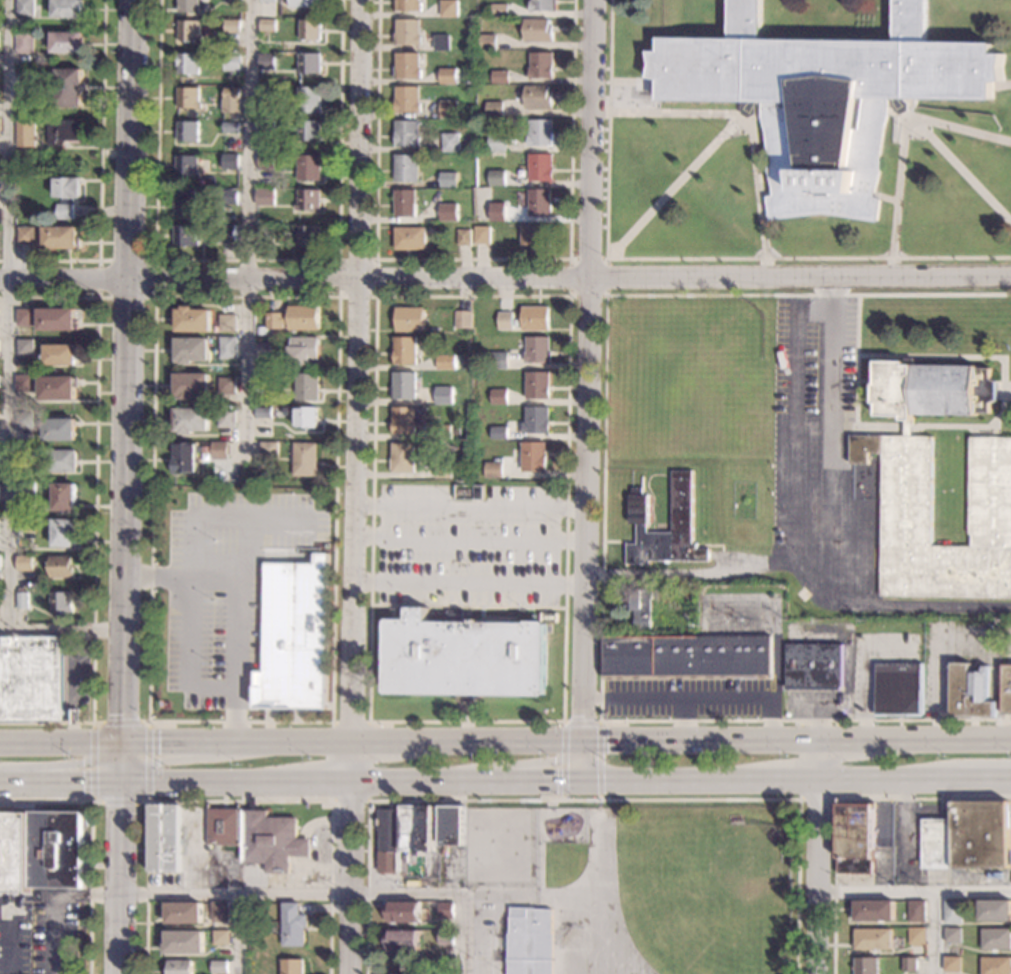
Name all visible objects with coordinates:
building: (234, 1)
building: (269, 1)
building: (307, 3)
building: (188, 5)
building: (409, 6)
building: (542, 6)
building: (24, 8)
building: (67, 8)
building: (450, 8)
building: (499, 11)
building: (268, 25)
building: (233, 26)
building: (311, 30)
building: (537, 30)
building: (189, 31)
building: (409, 32)
building: (24, 42)
building: (66, 43)
building: (443, 43)
building: (487, 43)
building: (36, 58)
building: (233, 62)
building: (267, 62)
building: (188, 63)
building: (311, 64)
building: (408, 66)
building: (541, 66)
building: (449, 76)
building: (499, 78)
road: (632, 82)
road: (1001, 85)
building: (68, 87)
building: (232, 93)
building: (268, 94)
building: (537, 97)
building: (188, 98)
building: (822, 98)
building: (408, 99)
building: (311, 100)
building: (449, 109)
building: (494, 109)
building: (36, 116)
road: (744, 122)
building: (231, 127)
building: (268, 128)
building: (64, 131)
building: (187, 131)
building: (310, 131)
building: (540, 133)
building: (25, 134)
building: (407, 134)
road: (902, 135)
building: (451, 142)
building: (497, 143)
building: (266, 161)
building: (231, 162)
building: (29, 165)
building: (187, 165)
building: (310, 168)
building: (407, 168)
building: (540, 168)
road: (960, 170)
building: (496, 178)
road: (100, 179)
building: (449, 180)
road: (672, 188)
road: (764, 194)
building: (66, 196)
building: (230, 197)
building: (265, 197)
road: (885, 197)
building: (309, 200)
building: (539, 202)
building: (186, 203)
building: (405, 203)
building: (449, 212)
building: (497, 216)
building: (265, 233)
building: (229, 234)
building: (26, 236)
building: (186, 236)
building: (309, 236)
building: (482, 236)
road: (249, 237)
building: (464, 237)
building: (61, 238)
building: (410, 239)
building: (535, 239)
road: (678, 258)
road: (375, 259)
road: (472, 259)
road: (605, 259)
road: (245, 260)
road: (154, 261)
road: (505, 277)
road: (337, 296)
road: (568, 296)
road: (8, 316)
building: (24, 317)
building: (294, 318)
building: (462, 319)
building: (534, 319)
building: (57, 320)
building: (193, 320)
building: (409, 320)
building: (504, 321)
building: (228, 323)
building: (262, 332)
building: (25, 348)
building: (227, 348)
building: (192, 350)
building: (263, 350)
building: (536, 350)
building: (303, 351)
building: (405, 351)
building: (60, 355)
building: (498, 360)
building: (446, 362)
building: (264, 377)
park: (679, 381)
building: (23, 383)
building: (192, 385)
building: (536, 385)
building: (225, 386)
building: (403, 386)
building: (307, 387)
building: (58, 388)
building: (932, 390)
road: (588, 391)
road: (126, 392)
road: (1007, 392)
building: (443, 395)
building: (498, 397)
building: (263, 412)
building: (306, 416)
building: (227, 418)
building: (405, 419)
building: (24, 420)
building: (191, 421)
building: (535, 421)
road: (967, 426)
building: (907, 428)
building: (59, 430)
building: (442, 432)
building: (498, 433)
building: (268, 450)
building: (220, 451)
building: (25, 452)
parking lot: (821, 454)
road: (827, 455)
building: (533, 457)
building: (186, 458)
building: (402, 458)
building: (305, 459)
building: (61, 461)
building: (443, 470)
building: (493, 470)
road: (354, 487)
building: (26, 494)
building: (65, 497)
building: (905, 499)
road: (469, 505)
road: (94, 506)
building: (681, 509)
road: (602, 511)
road: (793, 521)
building: (63, 533)
building: (776, 538)
road: (469, 542)
parking lot: (468, 547)
building: (18, 549)
building: (24, 563)
building: (61, 567)
road: (191, 570)
road: (690, 574)
road: (182, 578)
road: (468, 584)
parking lot: (230, 587)
building: (22, 600)
building: (62, 603)
building: (638, 607)
road: (775, 620)
road: (62, 632)
road: (237, 633)
building: (293, 636)
building: (687, 656)
parking lot: (775, 656)
building: (465, 657)
building: (813, 667)
building: (32, 680)
building: (960, 683)
building: (898, 689)
building: (1006, 689)
road: (699, 698)
traffic signals: (582, 716)
road: (581, 721)
road: (683, 721)
road: (148, 722)
road: (368, 722)
road: (505, 744)
traffic signals: (581, 745)
traffic signals: (606, 745)
traffic signals: (122, 747)
road: (176, 759)
road: (61, 763)
road: (836, 778)
road: (984, 781)
traffic signals: (580, 782)
road: (769, 782)
road: (306, 783)
road: (535, 783)
traffic signals: (556, 783)
road: (60, 785)
traffic signals: (122, 785)
road: (836, 798)
road: (583, 800)
road: (238, 801)
road: (598, 803)
road: (587, 810)
building: (452, 826)
building: (223, 827)
building: (402, 834)
building: (967, 837)
building: (165, 838)
building: (855, 838)
building: (271, 841)
road: (90, 842)
park: (500, 847)
building: (41, 851)
road: (816, 858)
road: (540, 864)
road: (121, 879)
road: (913, 890)
road: (534, 893)
road: (331, 894)
road: (496, 894)
road: (55, 902)
building: (445, 910)
building: (873, 910)
building: (995, 910)
building: (916, 911)
building: (219, 912)
building: (402, 912)
building: (952, 912)
building: (183, 913)
building: (292, 925)
parking lot: (485, 930)
road: (931, 932)
parking lot: (44, 933)
road: (236, 934)
road: (495, 934)
building: (952, 935)
building: (916, 937)
building: (221, 938)
building: (445, 938)
building: (873, 939)
building: (996, 939)
building: (401, 940)
road: (4, 941)
building: (528, 941)
building: (184, 943)
building: (952, 964)
building: (909, 965)
building: (996, 965)
building: (291, 966)
building: (866, 966)
building: (178, 967)
building: (218, 967)

